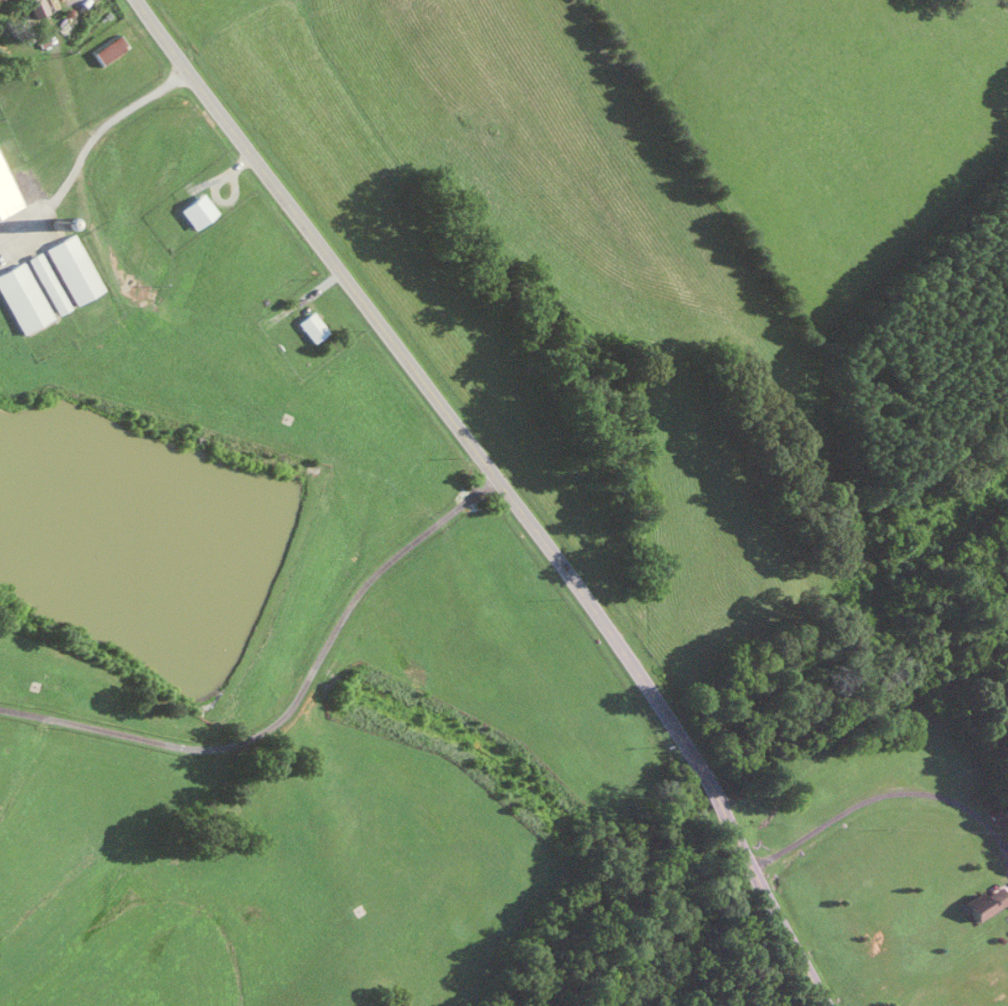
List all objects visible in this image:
building: (35, 7)
building: (107, 49)
crop: (826, 126)
road: (85, 146)
building: (7, 192)
building: (195, 210)
building: (72, 268)
building: (46, 282)
building: (21, 298)
building: (310, 326)
road: (421, 384)
road: (950, 494)
road: (849, 516)
crop: (935, 525)
road: (867, 539)
road: (860, 580)
road: (771, 683)
road: (289, 703)
road: (710, 792)
road: (881, 794)
building: (985, 903)
road: (770, 907)

